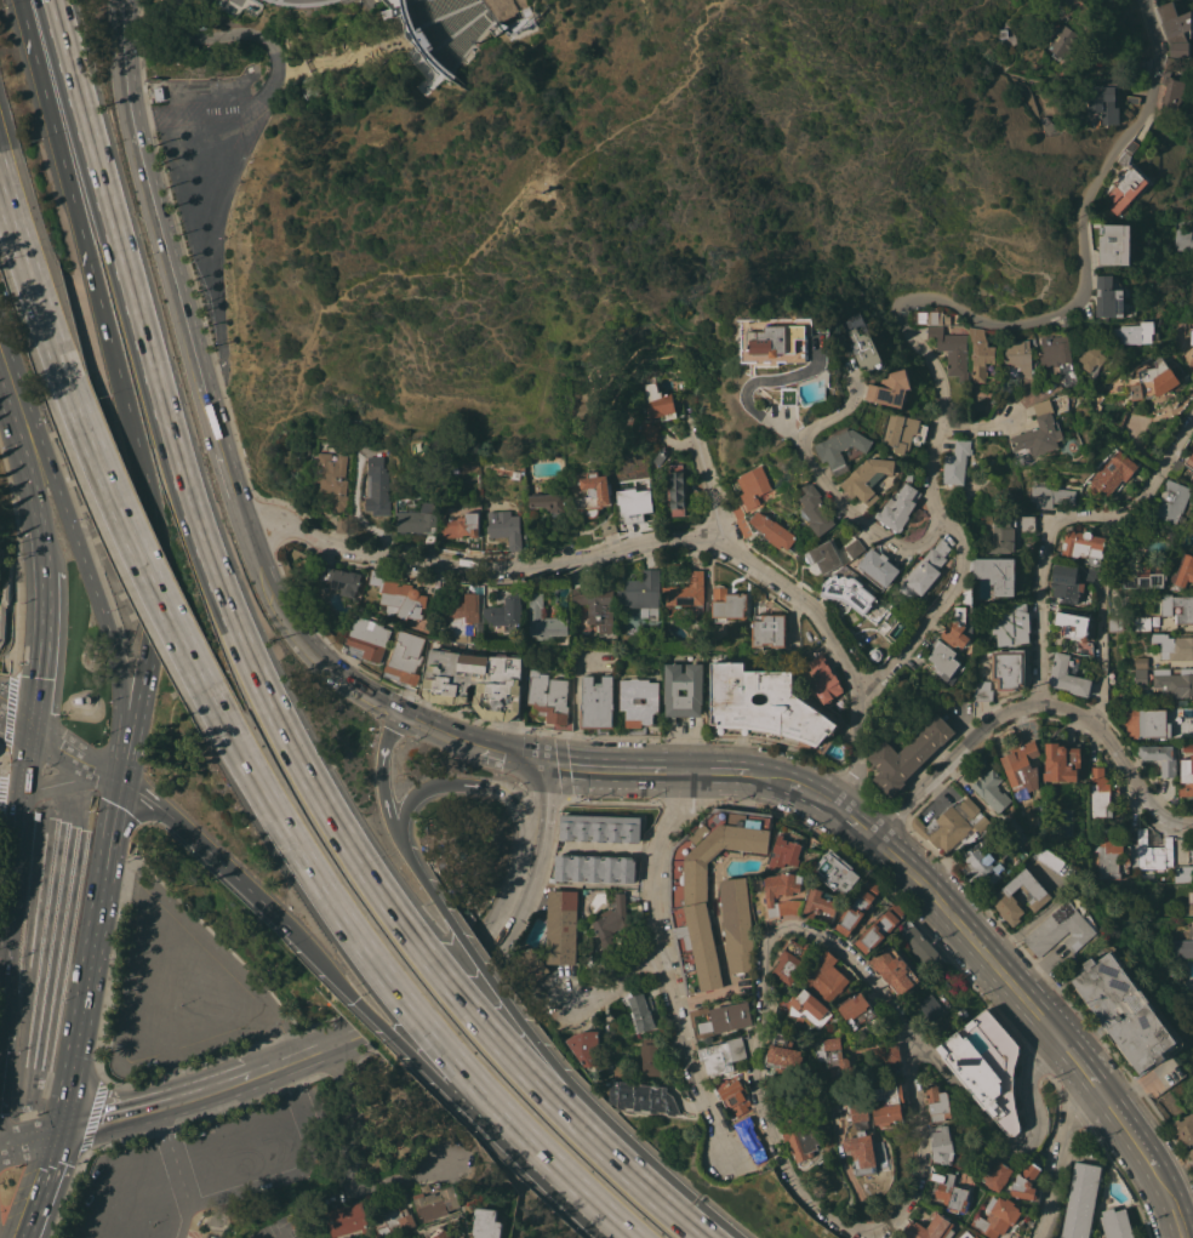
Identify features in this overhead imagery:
road: (449, 12)
building: (515, 23)
road: (457, 27)
building: (1176, 29)
road: (253, 34)
building: (416, 35)
road: (375, 40)
building: (1062, 41)
building: (1172, 63)
building: (1138, 64)
road: (452, 65)
road: (445, 67)
road: (289, 70)
road: (441, 72)
building: (309, 86)
building: (1170, 91)
building: (1132, 99)
building: (1102, 103)
building: (1126, 153)
building: (1124, 189)
road: (217, 198)
building: (1183, 239)
building: (1114, 244)
road: (484, 247)
road: (89, 262)
road: (30, 281)
building: (1108, 297)
road: (926, 298)
building: (932, 316)
building: (1071, 321)
building: (1136, 333)
road: (188, 335)
building: (1191, 335)
building: (1178, 336)
building: (781, 342)
building: (863, 344)
building: (951, 350)
building: (1055, 352)
building: (980, 354)
building: (1018, 355)
building: (1090, 358)
building: (1191, 360)
building: (1153, 381)
building: (890, 387)
road: (750, 388)
building: (788, 395)
building: (656, 398)
road: (971, 427)
building: (649, 430)
building: (902, 432)
road: (7, 435)
building: (1035, 435)
building: (841, 447)
road: (22, 455)
building: (1189, 460)
building: (955, 462)
building: (1112, 474)
building: (1192, 474)
road: (706, 475)
building: (867, 478)
building: (332, 480)
road: (826, 483)
building: (753, 485)
building: (377, 486)
building: (675, 490)
building: (593, 494)
building: (1051, 495)
building: (549, 502)
building: (633, 502)
building: (1171, 502)
building: (897, 508)
building: (814, 509)
building: (736, 510)
building: (418, 519)
road: (1057, 521)
building: (341, 523)
building: (461, 526)
building: (743, 526)
building: (503, 527)
building: (607, 527)
building: (774, 531)
building: (1008, 531)
road: (129, 535)
road: (645, 537)
building: (563, 540)
building: (1080, 543)
road: (42, 547)
building: (855, 547)
road: (80, 555)
building: (823, 557)
building: (878, 566)
building: (924, 571)
building: (1182, 572)
building: (998, 574)
building: (1088, 574)
building: (1141, 574)
building: (344, 580)
building: (1064, 583)
road: (156, 587)
building: (850, 589)
building: (641, 592)
building: (687, 593)
building: (399, 595)
building: (727, 603)
building: (596, 605)
building: (1178, 606)
building: (504, 611)
building: (456, 614)
building: (544, 618)
road: (1102, 618)
building: (959, 622)
building: (1114, 623)
building: (1142, 623)
building: (1011, 624)
building: (769, 629)
building: (1074, 631)
building: (366, 639)
building: (1174, 646)
road: (41, 649)
building: (874, 654)
building: (405, 658)
building: (942, 658)
road: (24, 660)
building: (1140, 662)
road: (148, 663)
building: (1008, 668)
building: (1066, 677)
building: (1140, 678)
building: (822, 679)
building: (1174, 681)
building: (475, 683)
road: (259, 685)
road: (353, 686)
building: (981, 690)
building: (670, 691)
building: (548, 697)
road: (575, 702)
building: (596, 702)
building: (640, 704)
road: (1029, 704)
building: (765, 708)
traffic signals: (401, 714)
building: (1180, 714)
road: (137, 718)
road: (27, 720)
building: (1146, 723)
traffic signals: (30, 730)
road: (439, 731)
road: (387, 737)
road: (28, 746)
building: (1187, 749)
road: (507, 754)
building: (908, 754)
building: (1159, 757)
road: (73, 759)
building: (1061, 760)
traffic signals: (536, 761)
building: (1022, 765)
road: (121, 769)
road: (610, 769)
road: (714, 771)
building: (1186, 777)
road: (767, 778)
traffic signals: (120, 781)
road: (69, 783)
road: (10, 786)
traffic signals: (21, 788)
road: (486, 789)
building: (991, 791)
building: (1100, 792)
road: (39, 795)
road: (815, 798)
road: (8, 805)
traffic signals: (18, 806)
road: (386, 810)
road: (65, 814)
building: (1062, 821)
road: (855, 825)
building: (953, 825)
building: (599, 828)
road: (536, 837)
building: (983, 837)
building: (1153, 850)
road: (206, 851)
building: (1192, 851)
building: (784, 854)
building: (1112, 854)
road: (121, 856)
building: (1050, 858)
road: (11, 862)
building: (594, 867)
building: (981, 868)
building: (837, 872)
building: (1183, 873)
building: (782, 885)
building: (1001, 897)
building: (695, 903)
building: (818, 903)
building: (1191, 903)
building: (790, 907)
building: (857, 907)
building: (611, 922)
building: (737, 924)
building: (561, 926)
traffic signals: (290, 928)
building: (880, 928)
building: (1060, 929)
building: (1189, 929)
road: (498, 931)
road: (964, 931)
building: (920, 947)
building: (1181, 947)
road: (361, 948)
road: (90, 958)
building: (793, 959)
building: (531, 964)
road: (666, 969)
building: (895, 970)
building: (827, 976)
road: (617, 985)
parking lot: (179, 991)
road: (702, 994)
building: (1189, 997)
street lamp: (181, 1003)
building: (931, 1006)
building: (807, 1008)
building: (858, 1010)
building: (640, 1011)
building: (1124, 1011)
road: (765, 1012)
building: (963, 1012)
building: (720, 1019)
building: (584, 1046)
building: (887, 1054)
building: (651, 1056)
building: (783, 1056)
building: (723, 1057)
road: (304, 1059)
road: (549, 1060)
road: (1074, 1060)
road: (418, 1061)
building: (843, 1065)
building: (986, 1066)
building: (643, 1097)
building: (736, 1097)
road: (1106, 1100)
road: (193, 1101)
building: (938, 1102)
building: (890, 1103)
road: (837, 1109)
building: (863, 1112)
road: (96, 1126)
building: (1185, 1128)
traffic signals: (58, 1135)
road: (1134, 1139)
road: (29, 1140)
building: (753, 1140)
building: (806, 1141)
building: (943, 1143)
road: (921, 1147)
building: (884, 1148)
road: (1009, 1149)
building: (864, 1152)
building: (1191, 1154)
road: (51, 1160)
road: (1061, 1160)
road: (746, 1165)
parking lot: (202, 1166)
road: (346, 1166)
road: (296, 1169)
building: (997, 1171)
road: (179, 1174)
building: (1026, 1181)
road: (582, 1188)
building: (952, 1192)
building: (435, 1200)
building: (1080, 1200)
road: (1169, 1202)
road: (34, 1213)
building: (997, 1216)
building: (346, 1217)
building: (394, 1221)
road: (609, 1221)
road: (616, 1221)
building: (487, 1223)
building: (1115, 1223)
building: (931, 1227)
parking lot: (276, 1228)
building: (440, 1233)
building: (966, 1234)
building: (1012, 1236)
building: (360, 1237)
building: (463, 1237)
building: (898, 1237)

